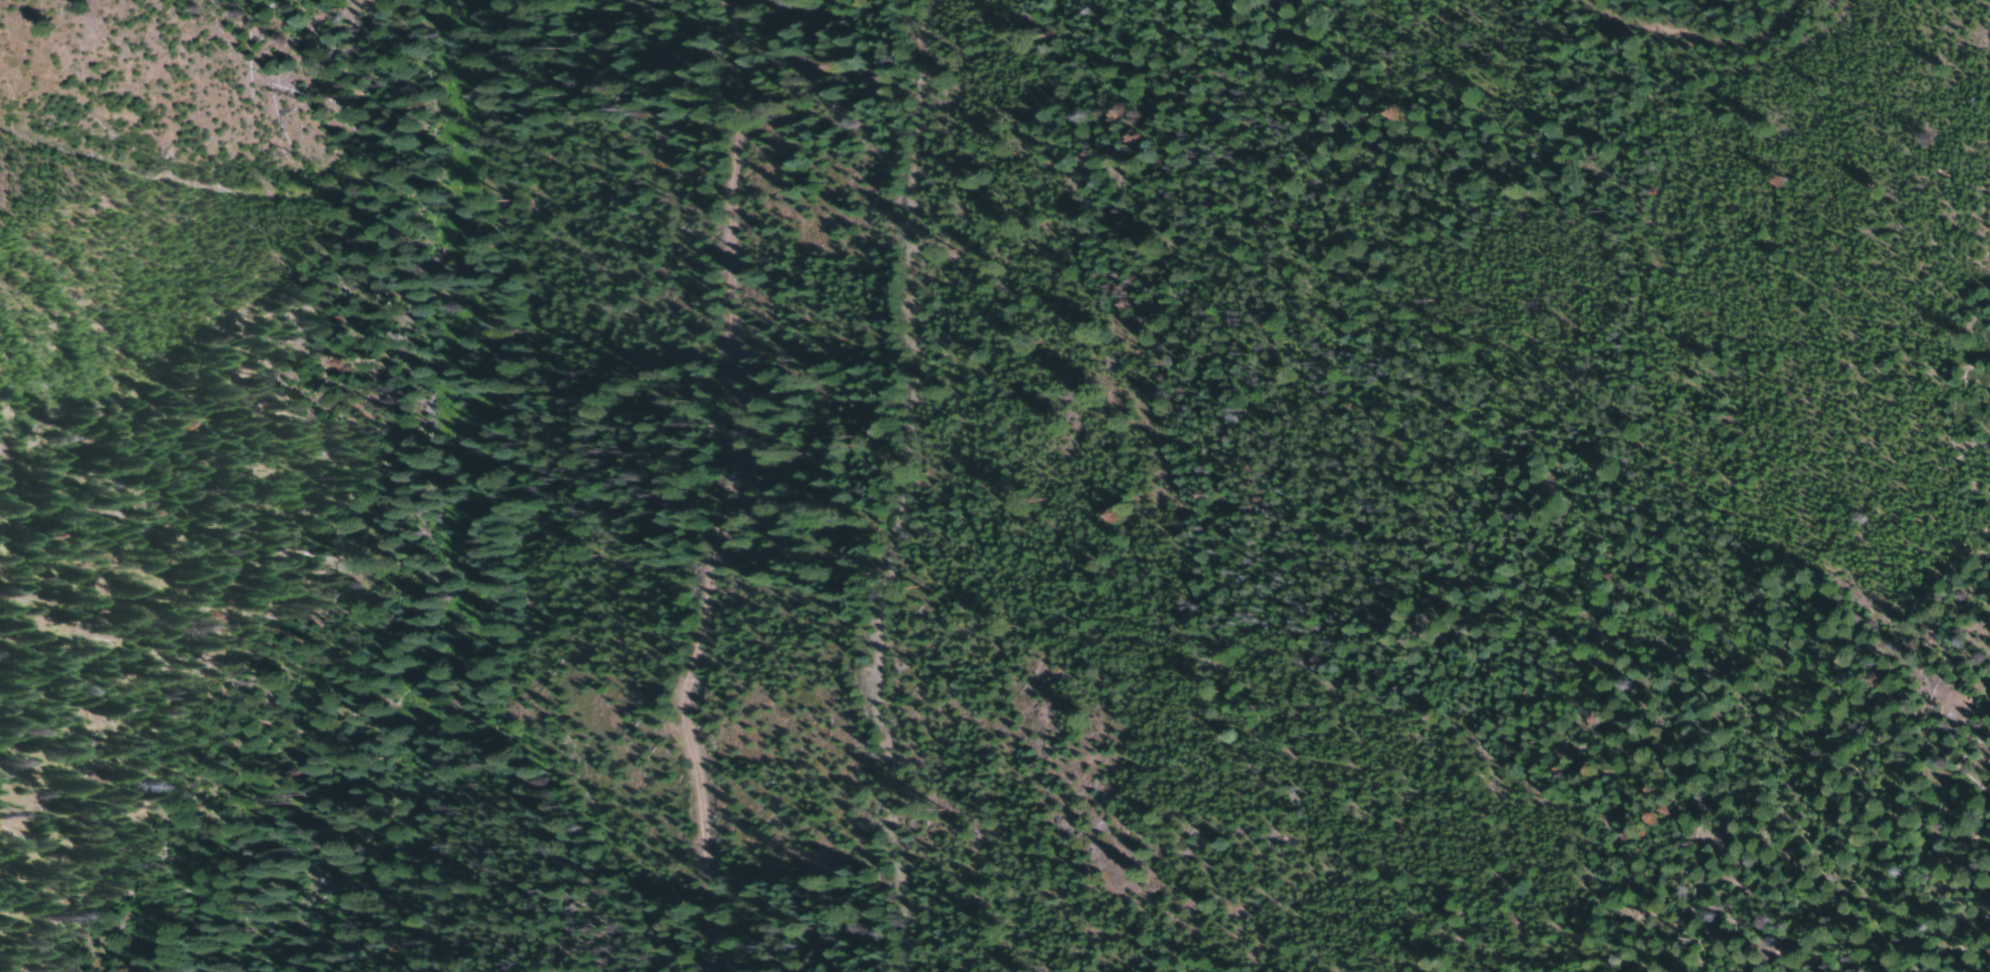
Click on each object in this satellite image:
road: (1953, 20)
road: (1474, 65)
road: (874, 480)
road: (696, 485)

